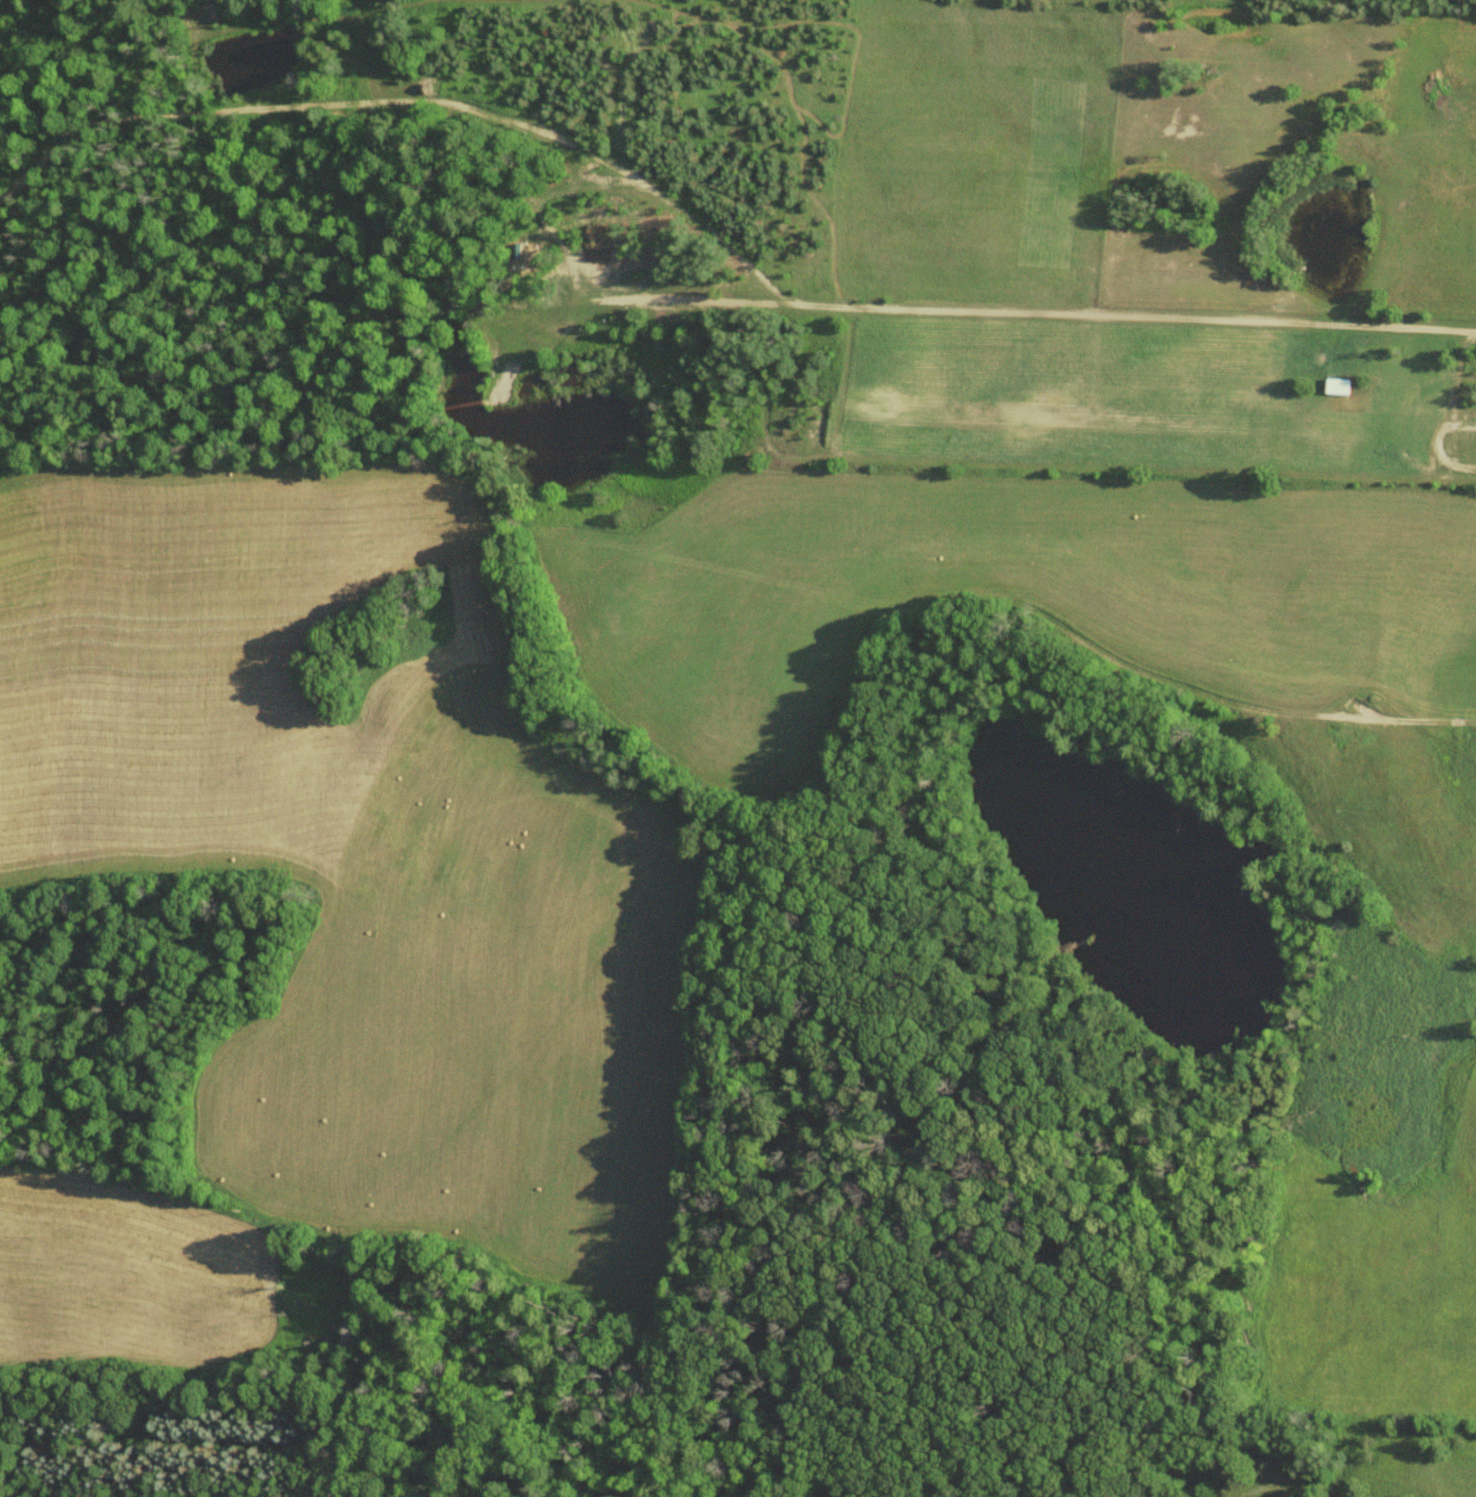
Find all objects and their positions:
building: (1341, 386)

